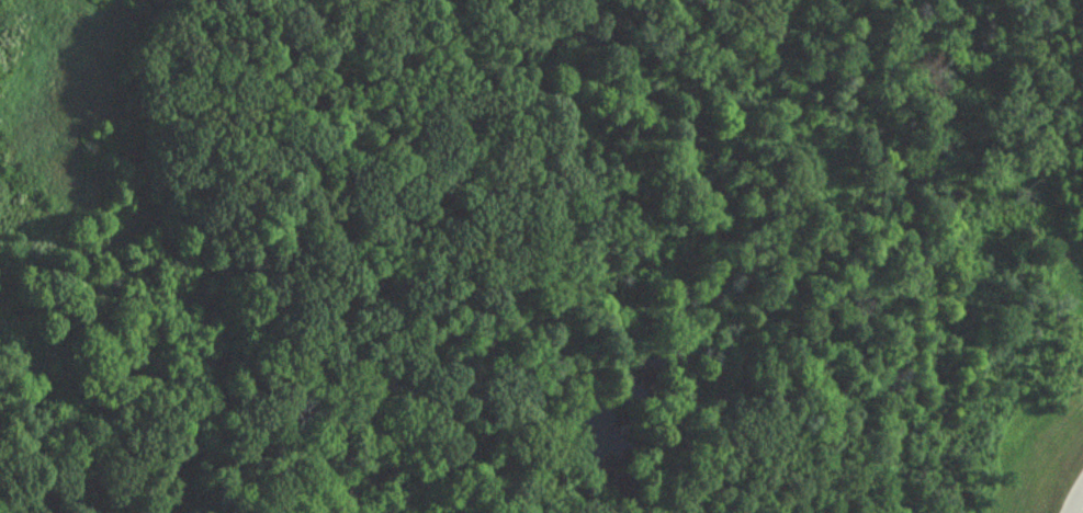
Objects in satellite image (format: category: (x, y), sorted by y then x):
raceway: (1078, 503)

